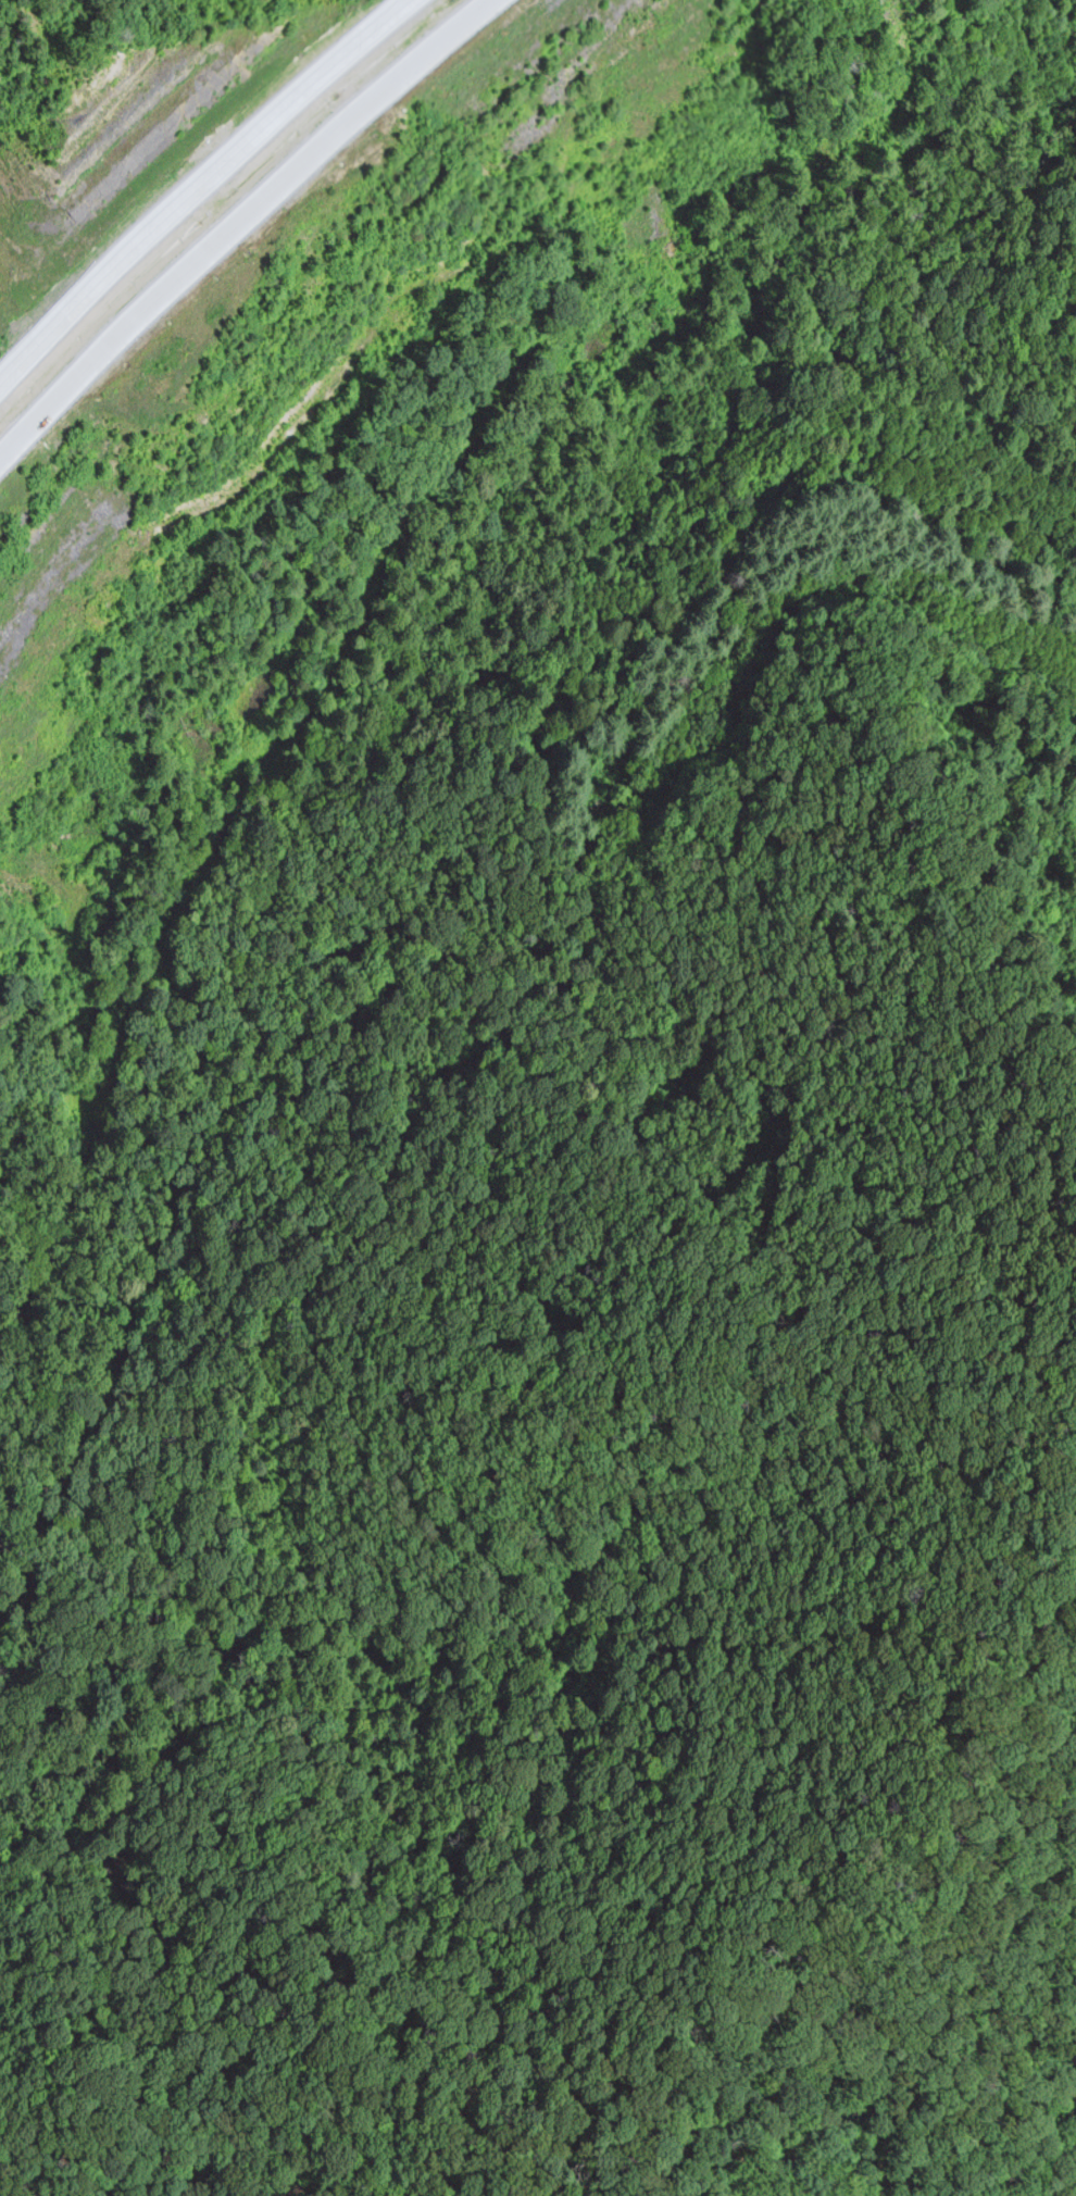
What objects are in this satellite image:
road: (210, 192)
road: (239, 222)

